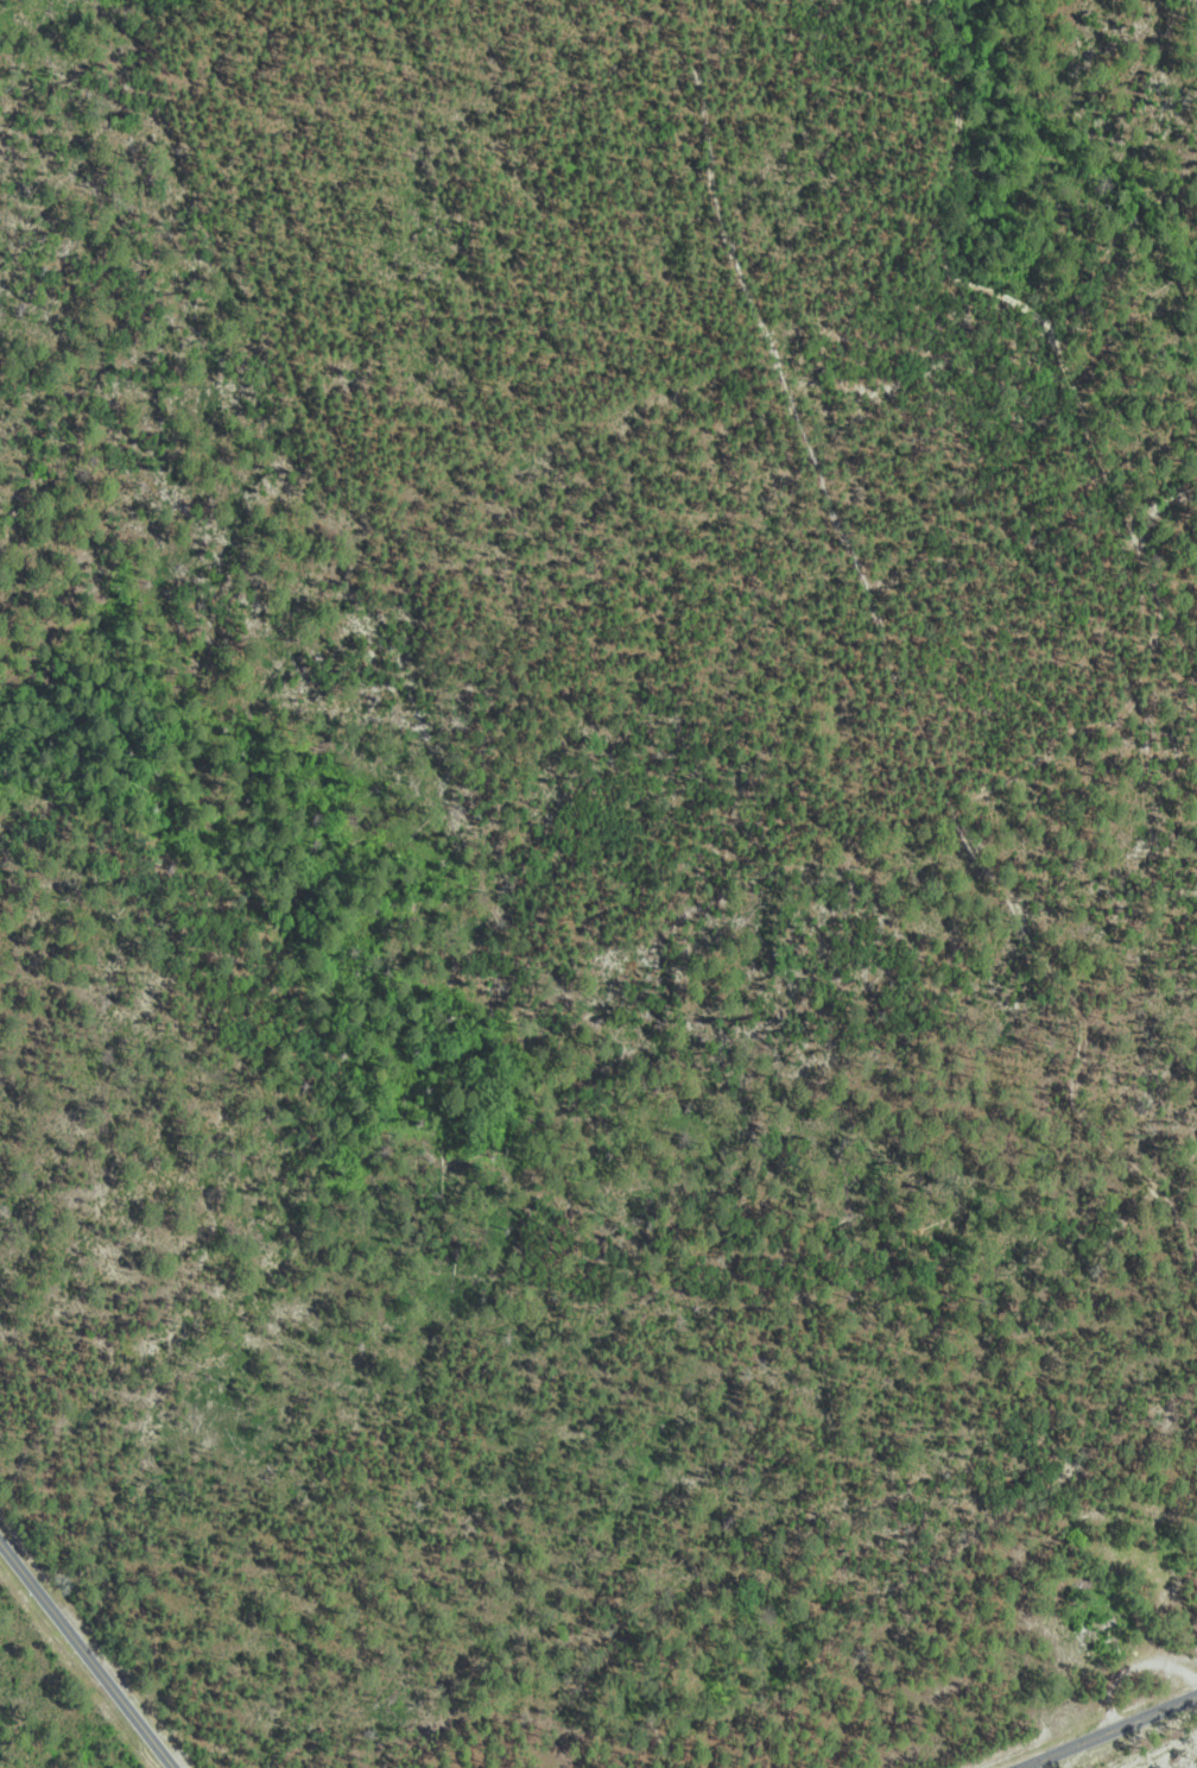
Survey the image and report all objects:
road: (87, 1655)
road: (1111, 1734)

